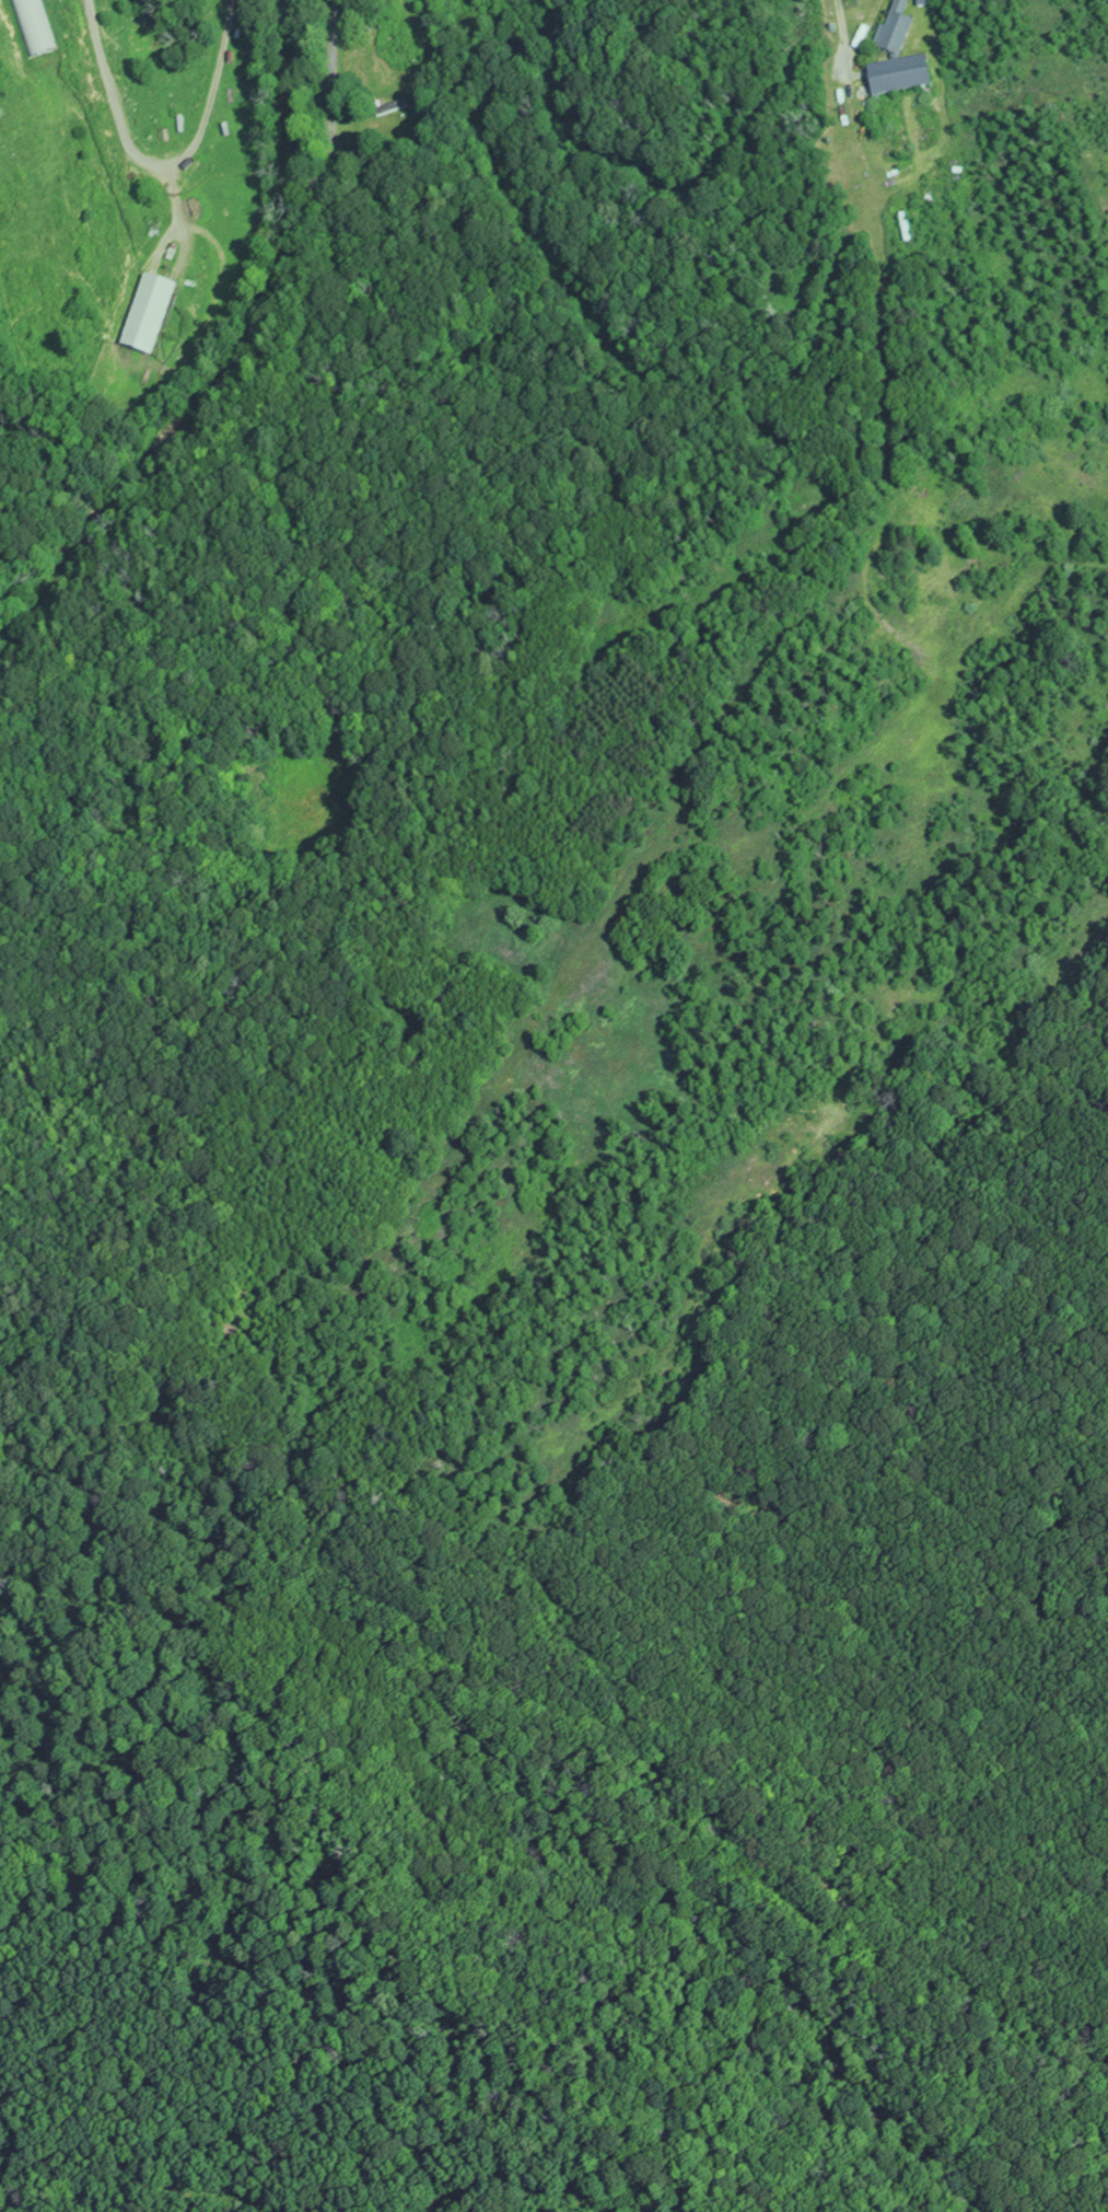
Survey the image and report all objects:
building: (896, 28)
building: (900, 77)
road: (143, 112)
building: (151, 314)
road: (298, 548)

